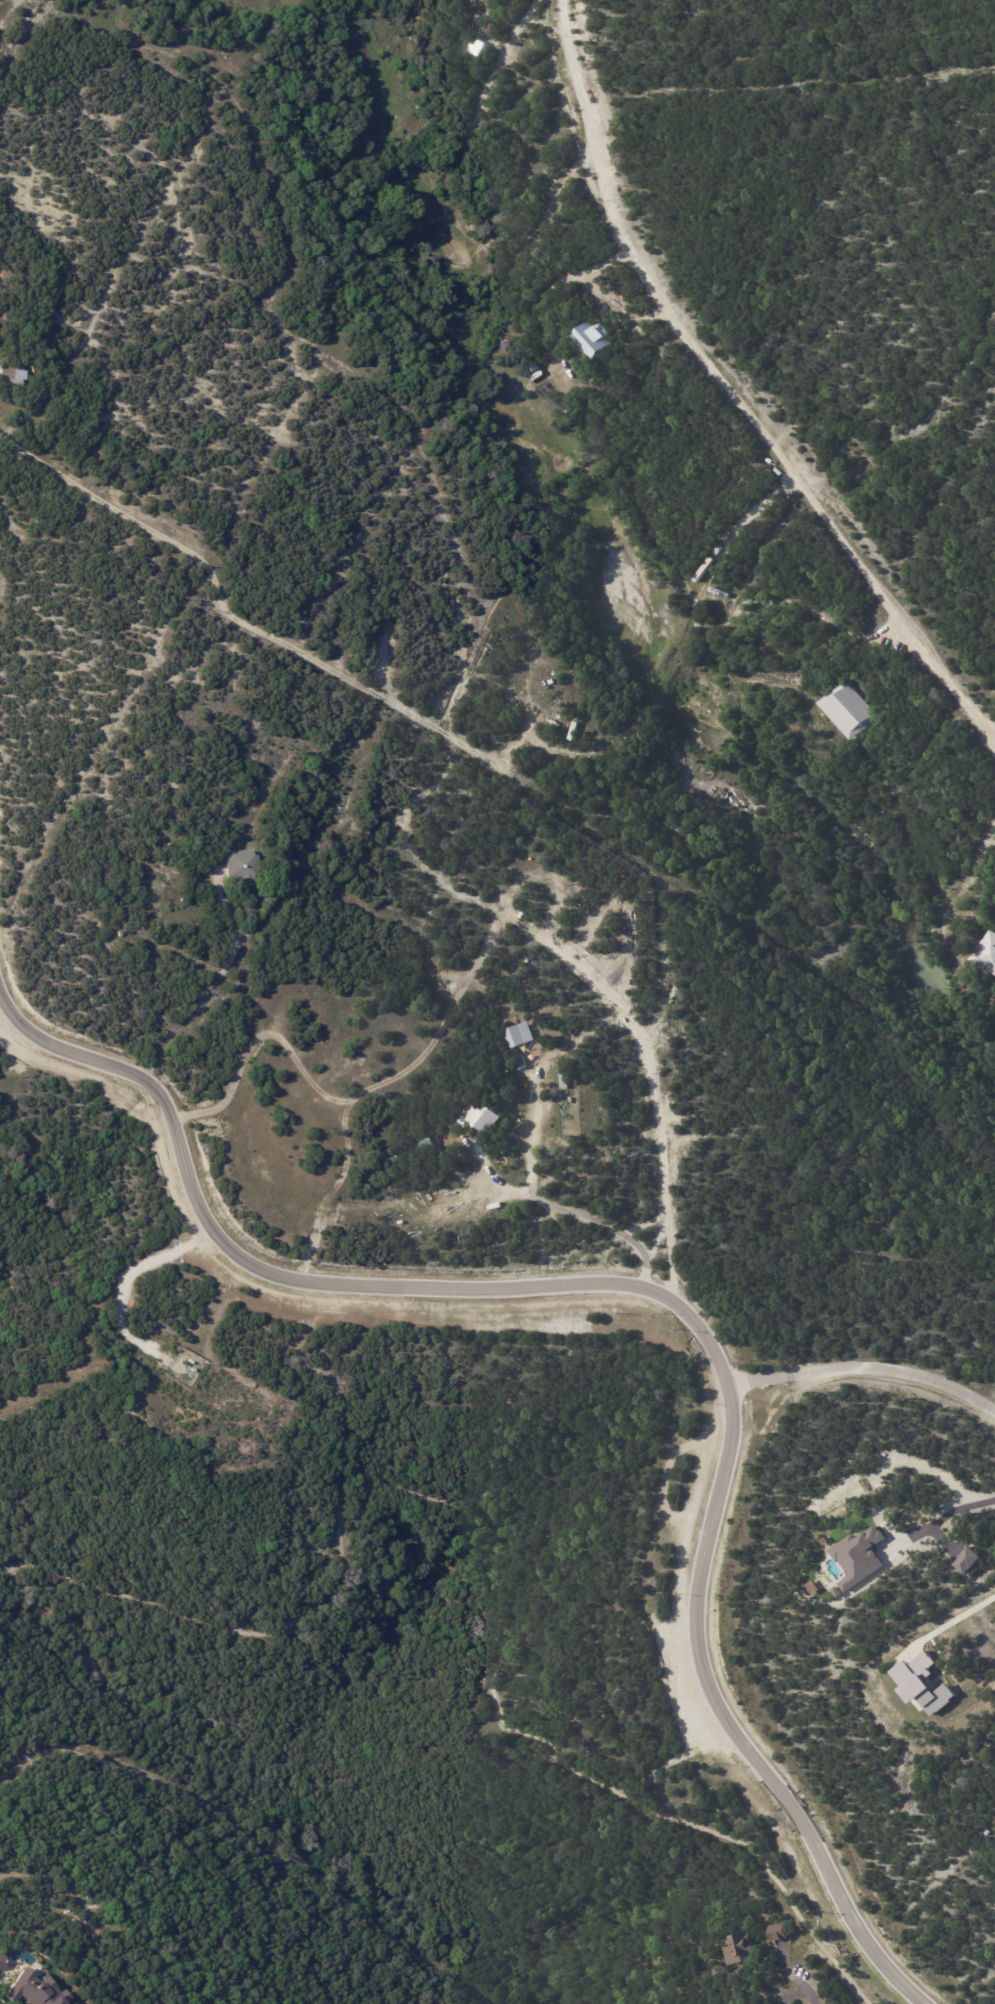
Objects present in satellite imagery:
building: (593, 339)
building: (12, 372)
road: (728, 388)
building: (852, 711)
building: (242, 865)
building: (187, 898)
building: (988, 953)
road: (207, 992)
building: (519, 1039)
building: (564, 1081)
building: (485, 1116)
road: (550, 1202)
road: (134, 1272)
road: (656, 1295)
road: (863, 1369)
road: (948, 1522)
building: (859, 1557)
building: (967, 1560)
road: (952, 1632)
building: (922, 1684)
building: (987, 1838)
building: (785, 1931)
building: (747, 1948)
road: (798, 1980)
building: (36, 1991)

